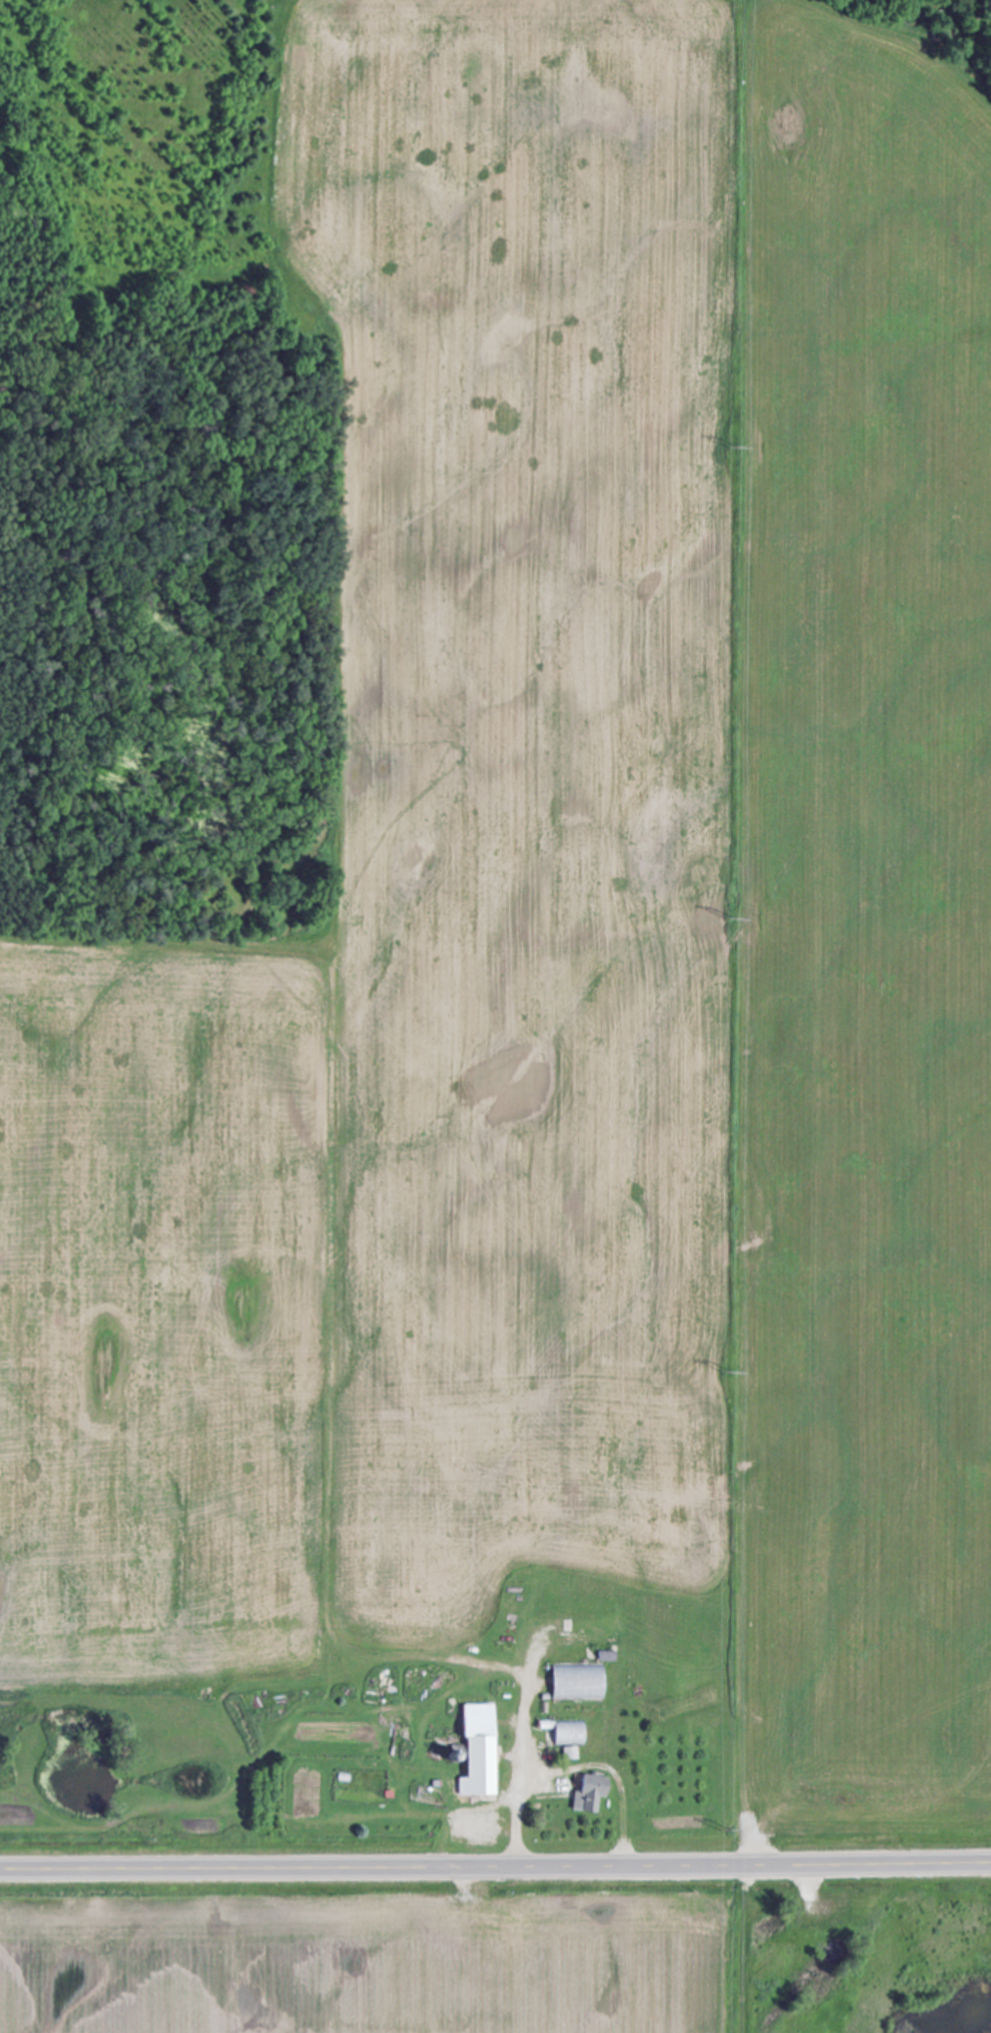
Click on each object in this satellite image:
power tower: (737, 444)
power tower: (734, 918)
power tower: (736, 1367)
building: (579, 1682)
building: (570, 1737)
building: (481, 1751)
road: (521, 1758)
building: (591, 1793)
power tower: (729, 1829)
road: (495, 1864)

